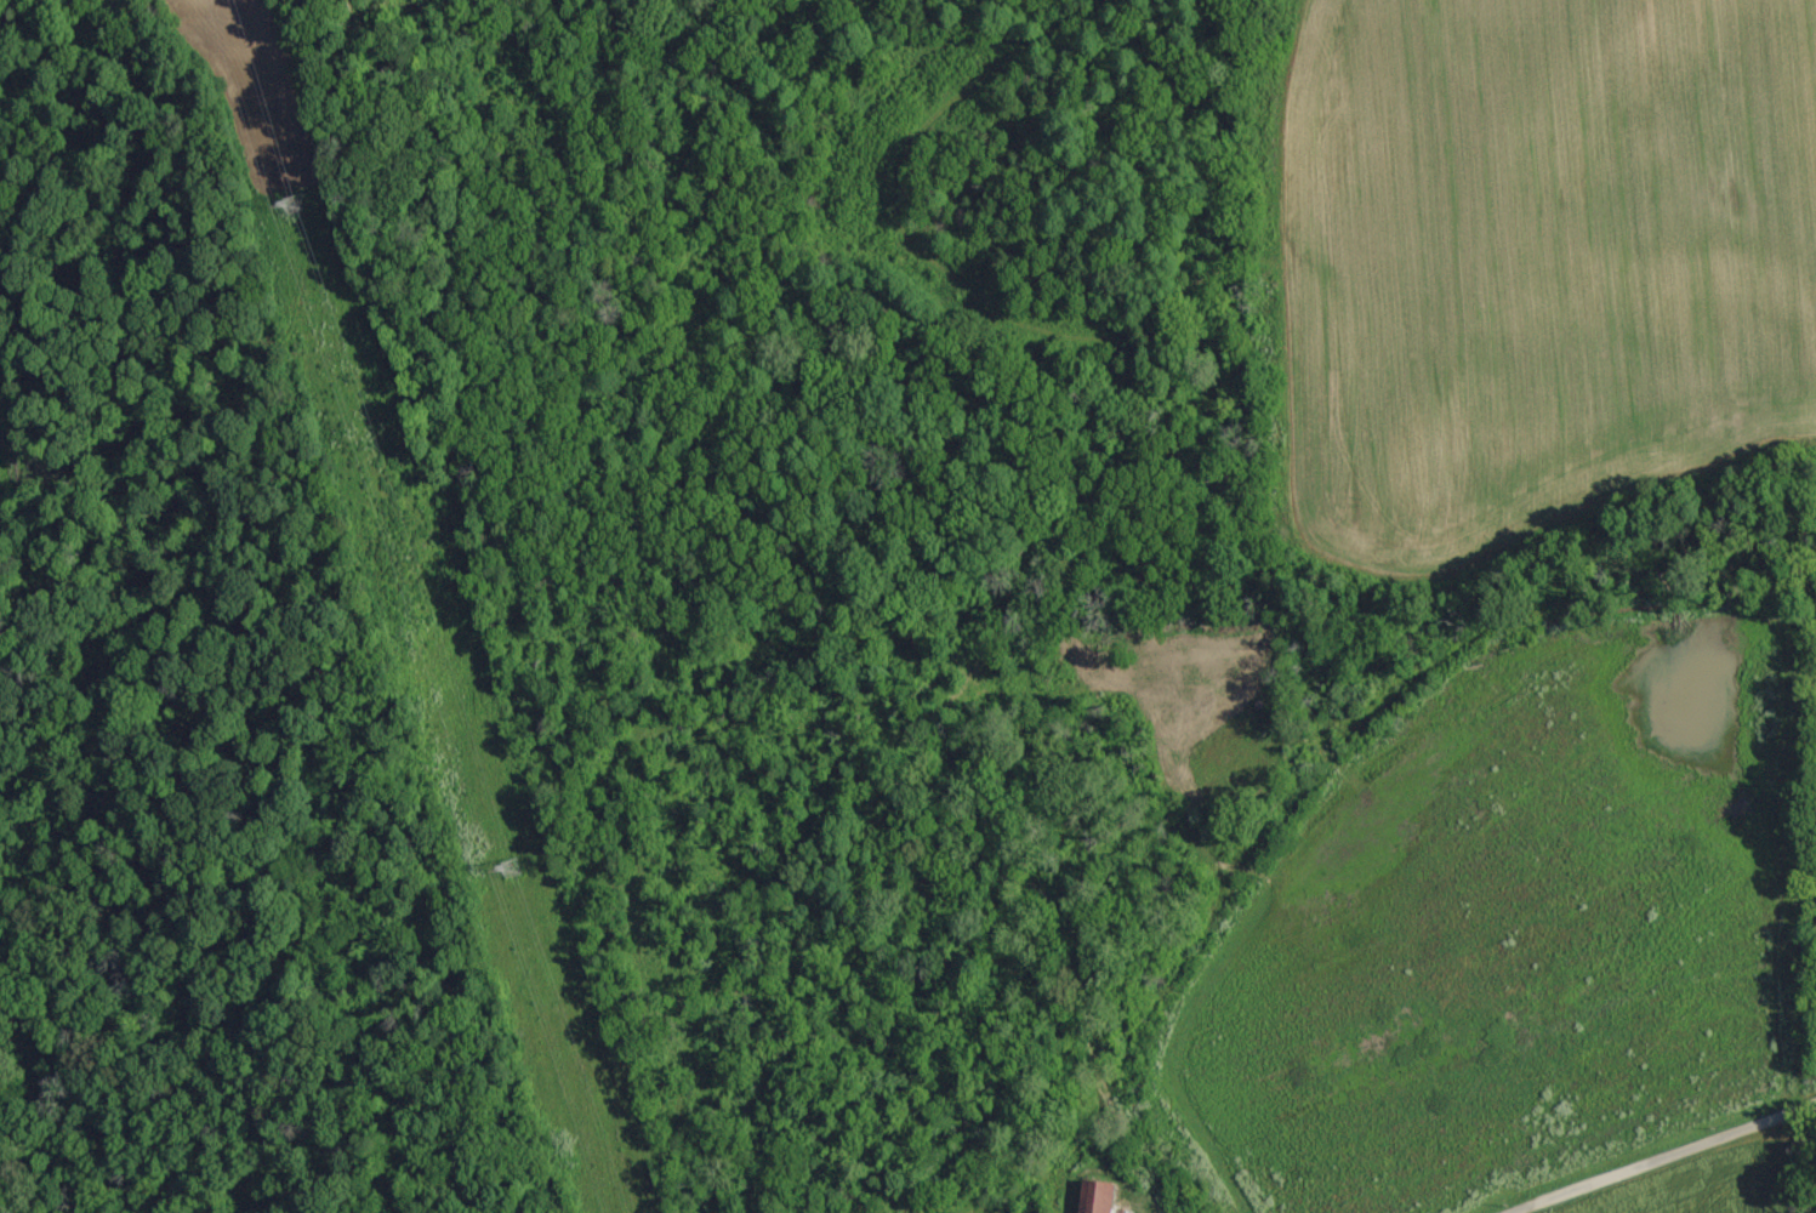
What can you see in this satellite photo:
power tower: (483, 859)
road: (1657, 1155)
building: (1088, 1197)

